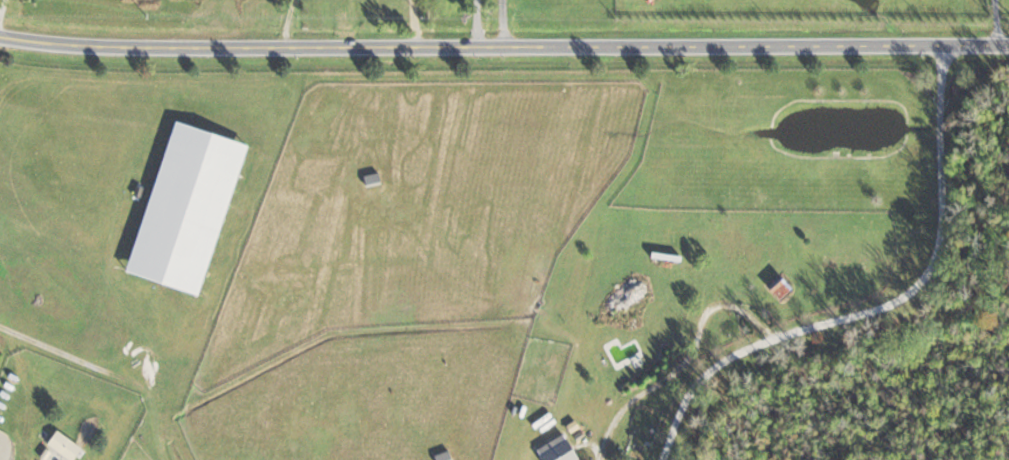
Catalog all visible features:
road: (3, 11)
road: (997, 21)
road: (292, 22)
road: (416, 22)
road: (481, 23)
road: (508, 23)
road: (504, 46)
building: (372, 182)
building: (188, 214)
building: (779, 288)
road: (883, 305)
building: (614, 312)
building: (64, 446)
building: (556, 450)
building: (443, 456)

